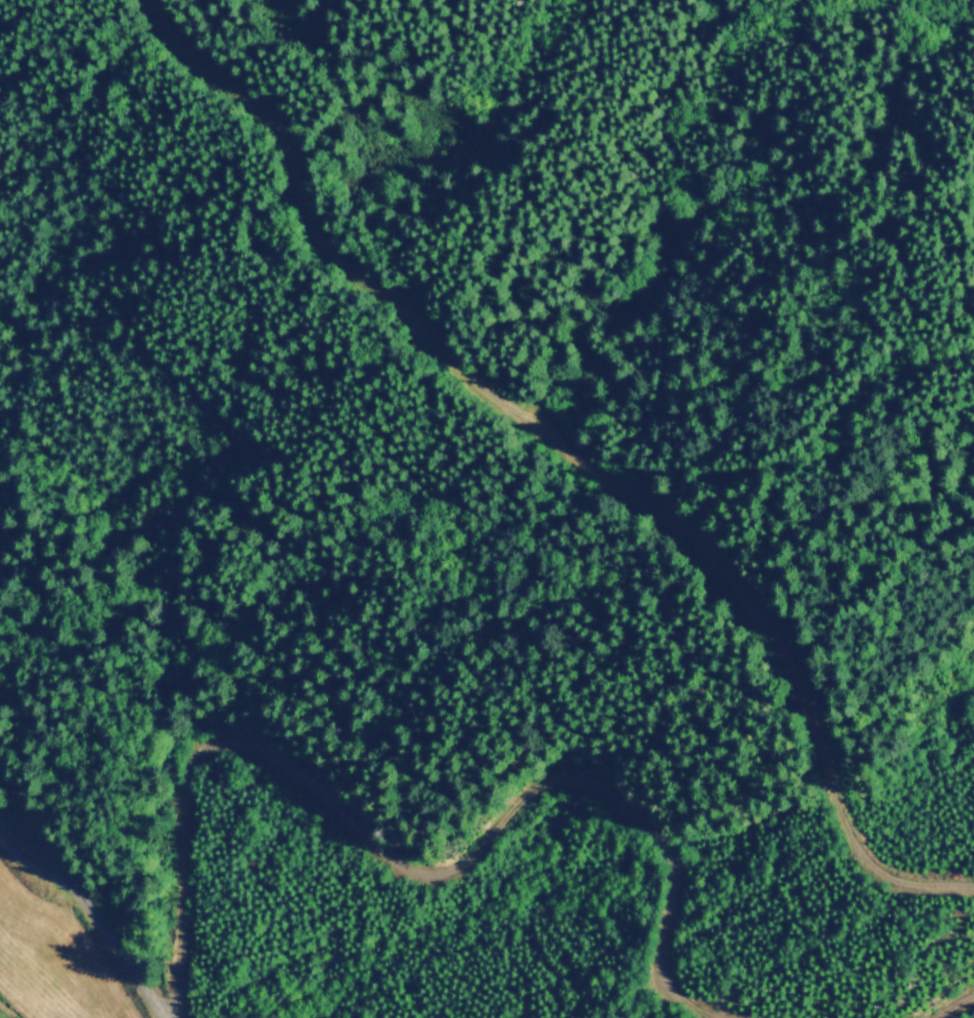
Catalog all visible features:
road: (572, 451)
road: (410, 865)
road: (79, 887)
road: (959, 1007)

